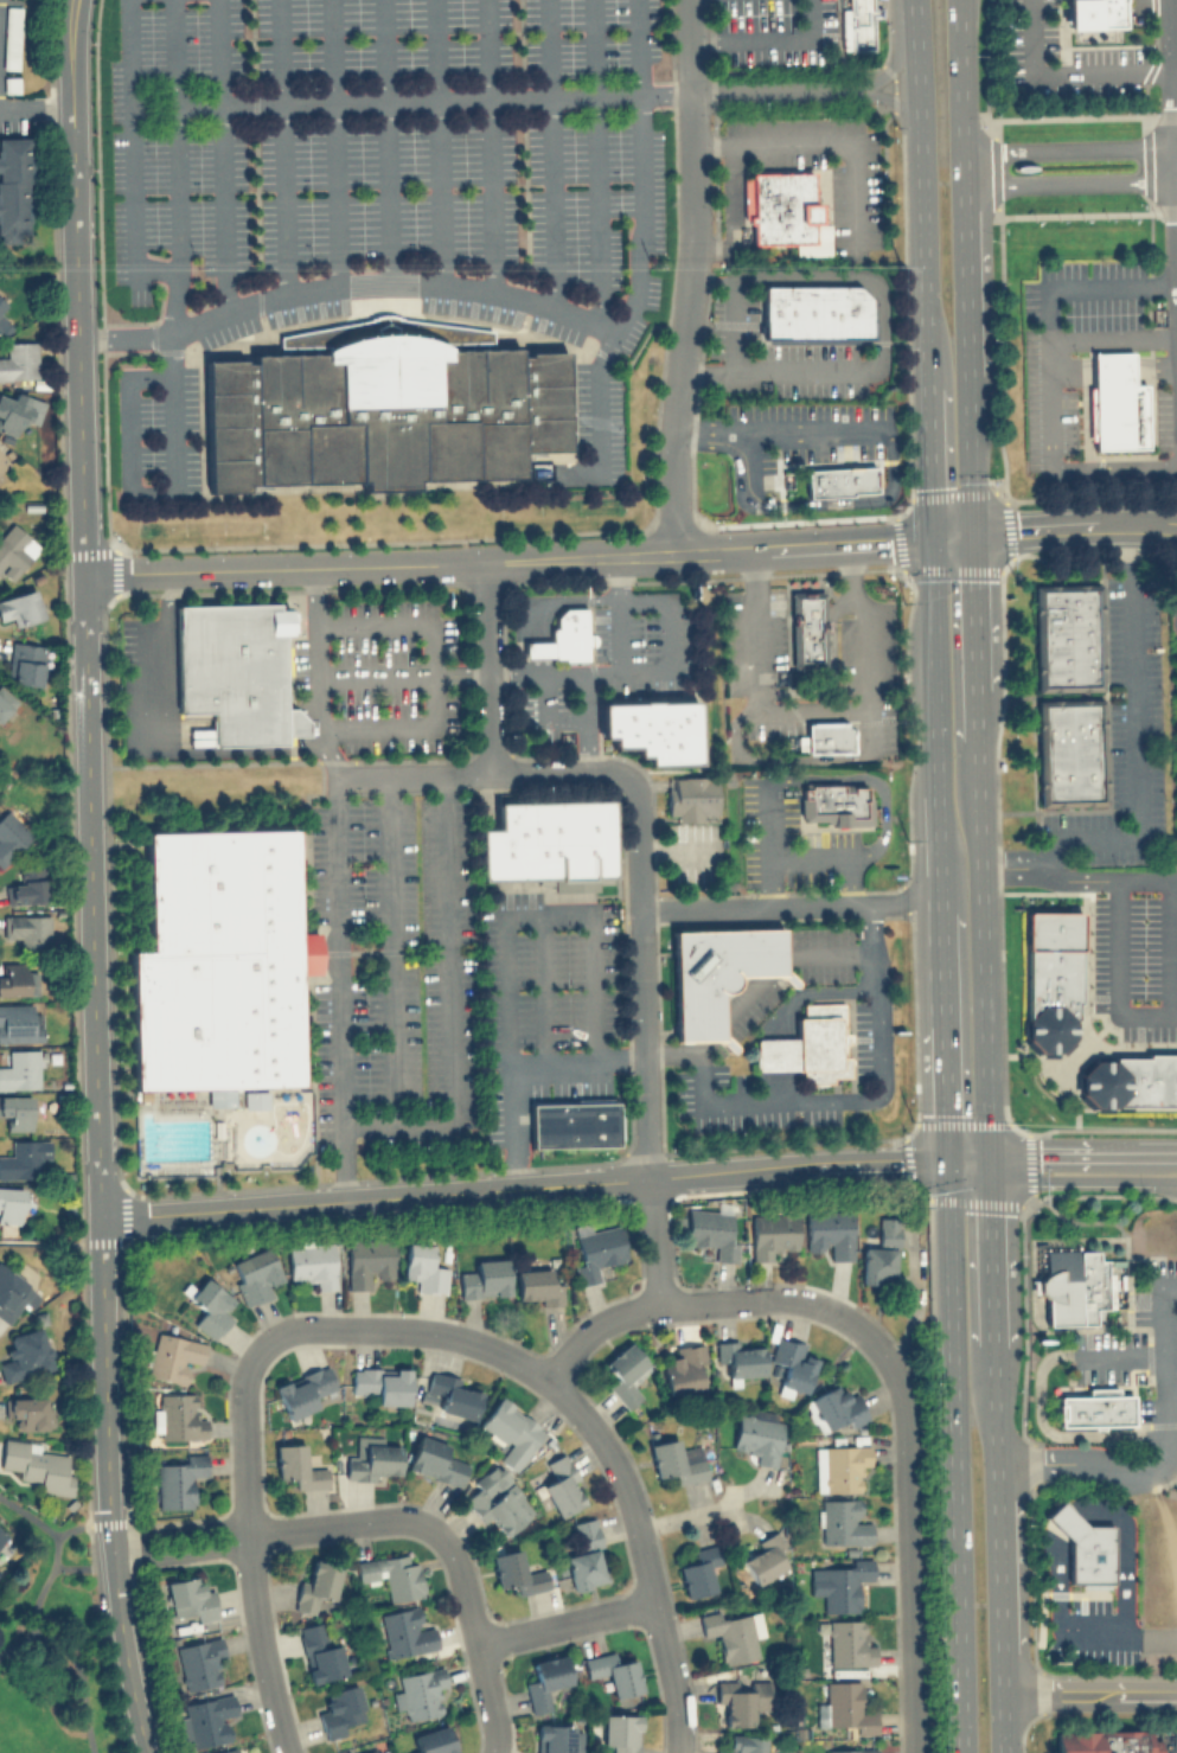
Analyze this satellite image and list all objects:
building: (1092, 13)
building: (857, 24)
building: (11, 38)
road: (768, 38)
road: (638, 47)
road: (485, 49)
road: (897, 56)
parking lot: (1063, 58)
road: (1069, 71)
road: (1172, 73)
building: (9, 84)
road: (772, 92)
road: (960, 92)
road: (403, 100)
road: (34, 104)
road: (222, 109)
road: (904, 111)
road: (827, 140)
road: (333, 142)
road: (386, 142)
road: (439, 142)
road: (1176, 146)
road: (282, 147)
road: (1068, 149)
road: (551, 155)
parking lot: (389, 161)
road: (599, 162)
road: (1070, 184)
road: (177, 187)
building: (14, 188)
road: (920, 193)
road: (490, 196)
road: (132, 206)
road: (729, 210)
building: (783, 211)
road: (1175, 215)
road: (639, 216)
road: (691, 276)
road: (811, 277)
road: (965, 280)
road: (404, 286)
building: (1, 303)
building: (815, 312)
building: (1, 318)
road: (1113, 335)
parking lot: (1067, 340)
building: (18, 360)
road: (788, 370)
road: (1049, 379)
building: (1114, 402)
building: (380, 407)
building: (18, 411)
parking lot: (600, 412)
parking lot: (168, 434)
road: (778, 434)
road: (971, 454)
building: (2, 459)
road: (927, 463)
building: (840, 480)
road: (128, 492)
road: (1075, 525)
traffic signals: (974, 535)
road: (952, 537)
traffic signals: (929, 539)
building: (14, 549)
road: (506, 559)
road: (165, 593)
road: (1175, 601)
building: (19, 606)
building: (807, 632)
building: (563, 635)
building: (1066, 636)
road: (669, 638)
building: (25, 663)
road: (486, 666)
road: (933, 666)
building: (235, 668)
road: (316, 672)
road: (428, 673)
road: (402, 676)
road: (613, 676)
road: (586, 697)
building: (5, 699)
road: (811, 710)
road: (569, 718)
building: (652, 728)
building: (825, 736)
road: (1136, 740)
building: (1069, 750)
road: (178, 751)
road: (563, 770)
road: (88, 772)
road: (412, 773)
road: (870, 781)
building: (690, 795)
building: (834, 802)
building: (11, 836)
building: (545, 839)
road: (769, 843)
road: (677, 847)
road: (939, 851)
road: (833, 856)
road: (1080, 882)
building: (26, 887)
road: (802, 906)
building: (26, 929)
road: (506, 939)
road: (390, 947)
road: (1169, 948)
road: (825, 952)
building: (218, 962)
road: (772, 964)
road: (940, 967)
building: (715, 972)
building: (1050, 977)
road: (1119, 977)
building: (15, 979)
road: (641, 980)
road: (343, 986)
road: (544, 990)
road: (811, 994)
road: (448, 997)
road: (742, 997)
building: (18, 1022)
road: (712, 1029)
building: (808, 1044)
road: (676, 1048)
road: (775, 1053)
road: (578, 1062)
building: (19, 1069)
building: (1131, 1080)
road: (776, 1085)
road: (942, 1093)
road: (853, 1096)
building: (14, 1108)
building: (571, 1124)
road: (990, 1143)
road: (1082, 1151)
building: (24, 1157)
road: (967, 1162)
traffic signals: (991, 1162)
traffic signals: (943, 1163)
road: (1082, 1178)
road: (1166, 1183)
road: (522, 1185)
building: (9, 1203)
building: (711, 1231)
building: (829, 1231)
building: (772, 1233)
road: (53, 1237)
road: (653, 1239)
building: (595, 1249)
building: (879, 1253)
building: (366, 1261)
building: (312, 1262)
building: (423, 1267)
building: (254, 1274)
building: (484, 1278)
building: (1081, 1284)
building: (536, 1286)
building: (14, 1293)
building: (211, 1305)
road: (1162, 1336)
parking lot: (1138, 1346)
road: (569, 1350)
road: (1112, 1351)
building: (25, 1354)
building: (172, 1356)
building: (741, 1357)
building: (791, 1365)
building: (683, 1368)
building: (623, 1373)
building: (382, 1383)
building: (303, 1389)
building: (448, 1394)
building: (837, 1407)
building: (1094, 1408)
building: (27, 1412)
building: (178, 1416)
building: (510, 1431)
road: (1057, 1433)
building: (757, 1437)
building: (372, 1458)
road: (952, 1458)
building: (434, 1460)
building: (677, 1460)
building: (37, 1464)
building: (298, 1466)
building: (838, 1466)
road: (1121, 1472)
building: (178, 1480)
building: (559, 1484)
building: (498, 1498)
road: (684, 1516)
building: (843, 1521)
road: (1067, 1523)
road: (82, 1525)
road: (271, 1528)
building: (584, 1531)
building: (2, 1534)
building: (1085, 1546)
road: (1125, 1549)
road: (53, 1552)
road: (644, 1552)
road: (908, 1556)
building: (763, 1557)
road: (249, 1560)
road: (82, 1566)
building: (583, 1568)
building: (698, 1570)
building: (516, 1572)
building: (391, 1574)
building: (839, 1584)
building: (315, 1585)
road: (1056, 1585)
building: (190, 1598)
road: (565, 1619)
building: (404, 1631)
parking lot: (1093, 1632)
road: (476, 1634)
building: (729, 1634)
road: (1096, 1638)
park: (50, 1639)
road: (1151, 1639)
building: (847, 1643)
road: (124, 1649)
building: (319, 1652)
road: (75, 1662)
building: (199, 1663)
building: (612, 1672)
building: (544, 1681)
building: (417, 1691)
road: (1090, 1693)
building: (741, 1698)
building: (846, 1707)
building: (338, 1709)
building: (205, 1719)
building: (619, 1732)
building: (557, 1738)
building: (431, 1741)
building: (1106, 1741)
building: (743, 1744)
building: (225, 1751)
building: (376, 1751)
building: (851, 1751)
building: (345, 1752)

